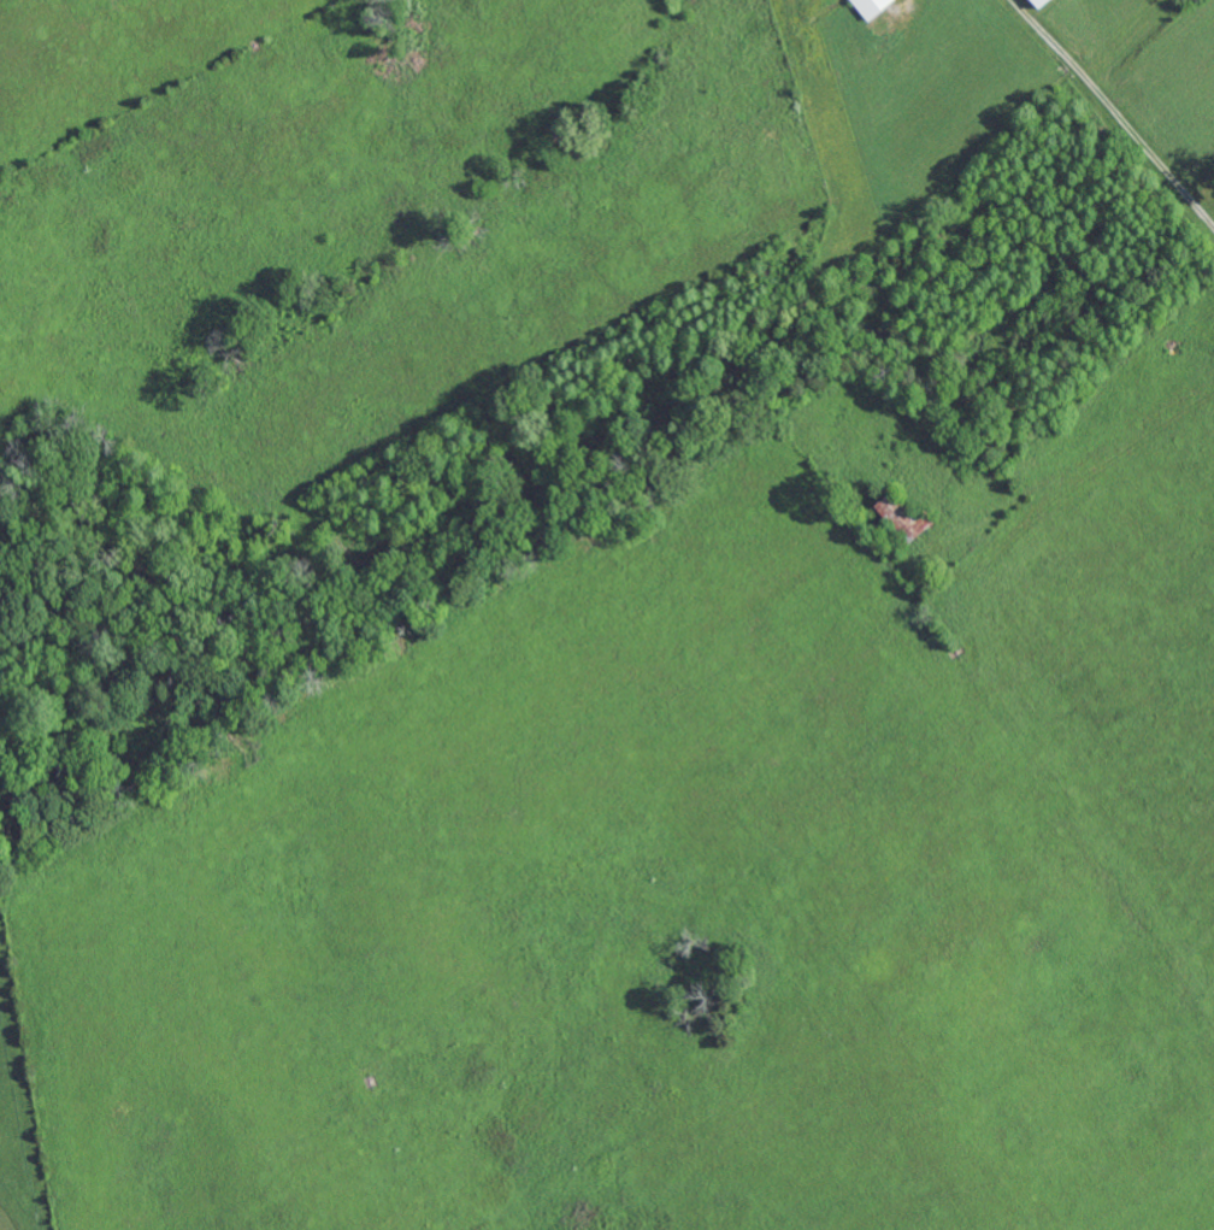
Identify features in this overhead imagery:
building: (1036, 4)
building: (868, 7)

